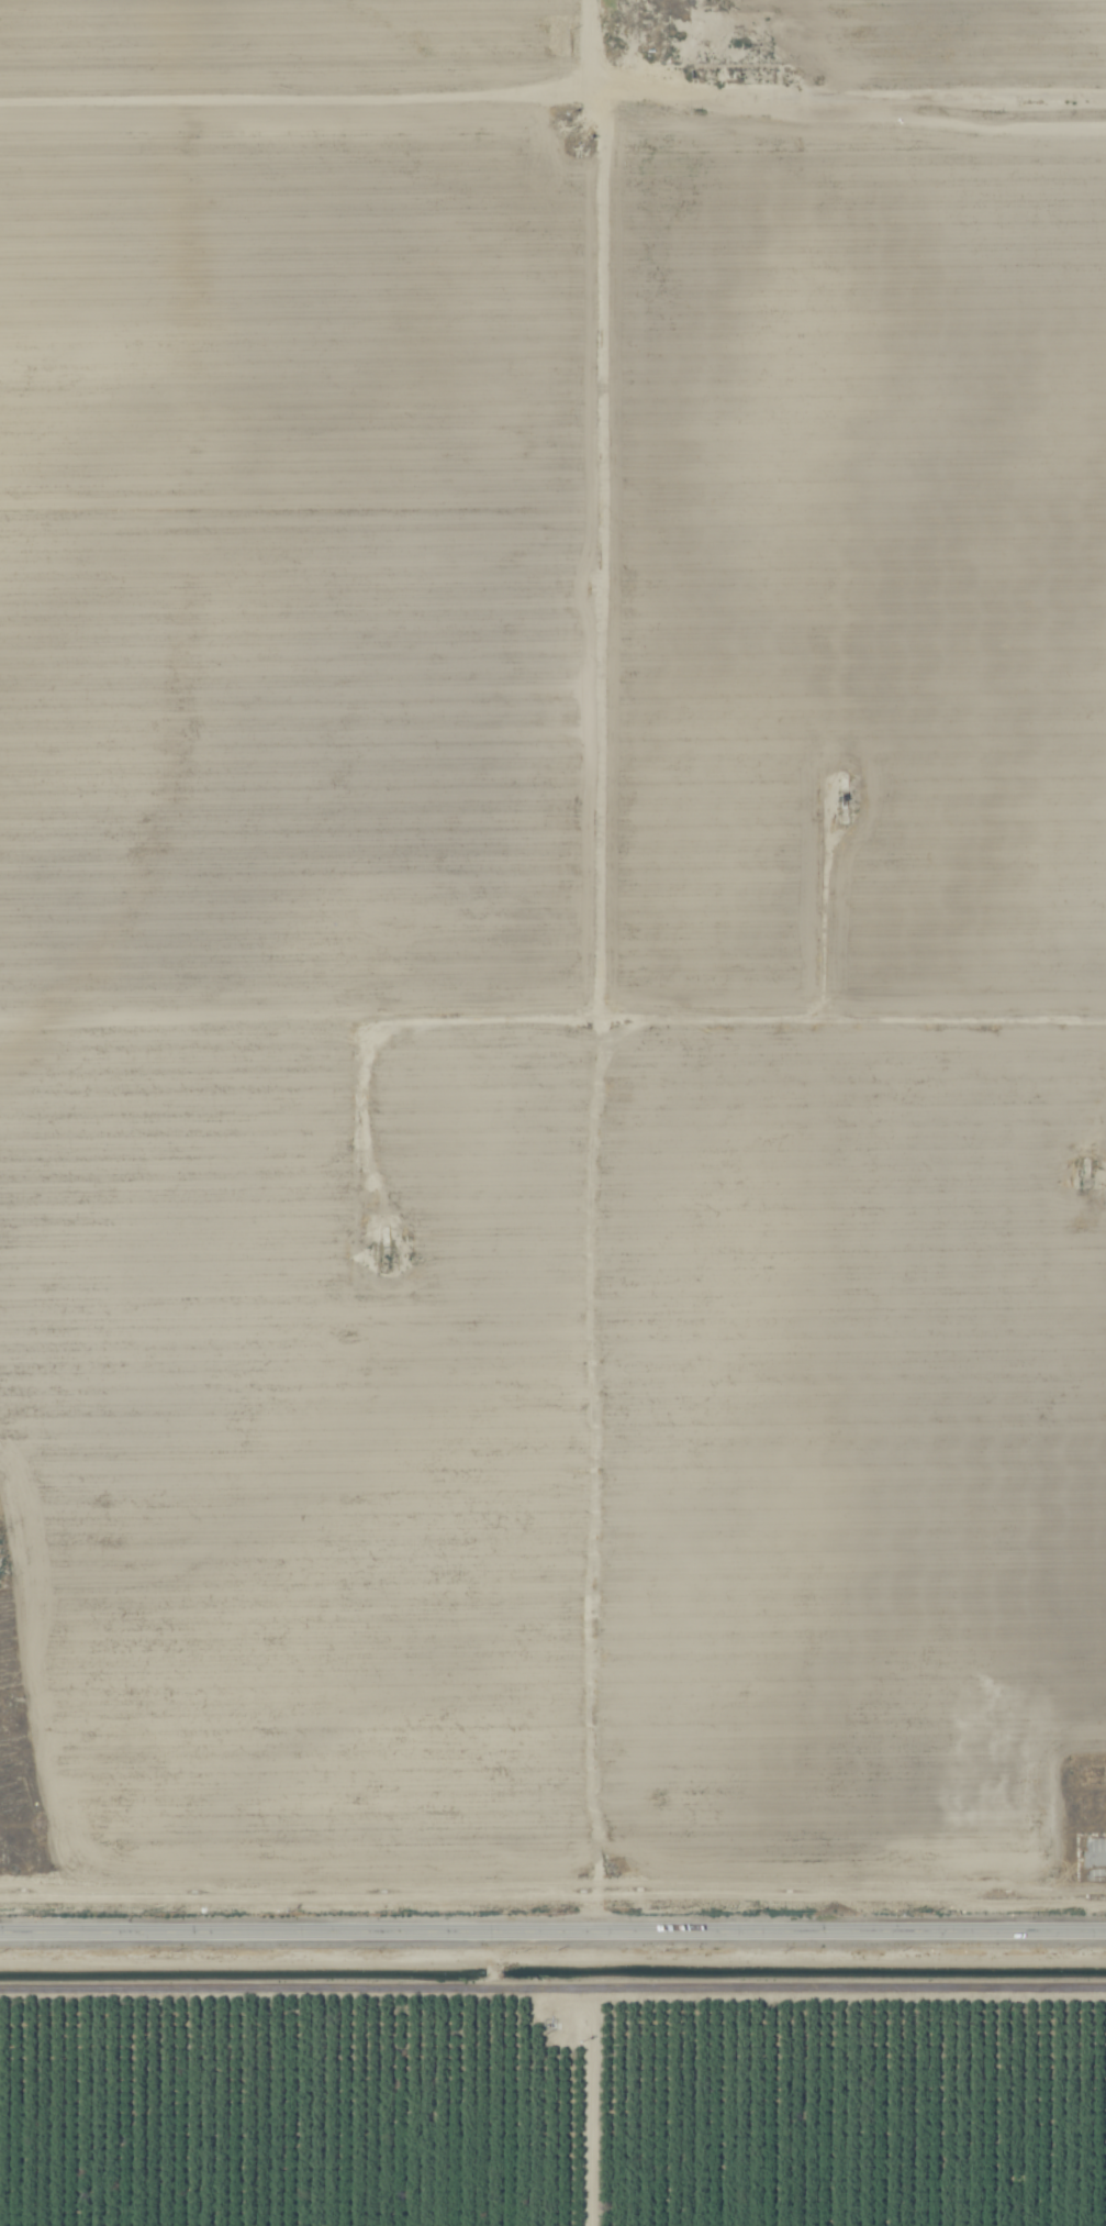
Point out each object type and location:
road: (552, 1931)

